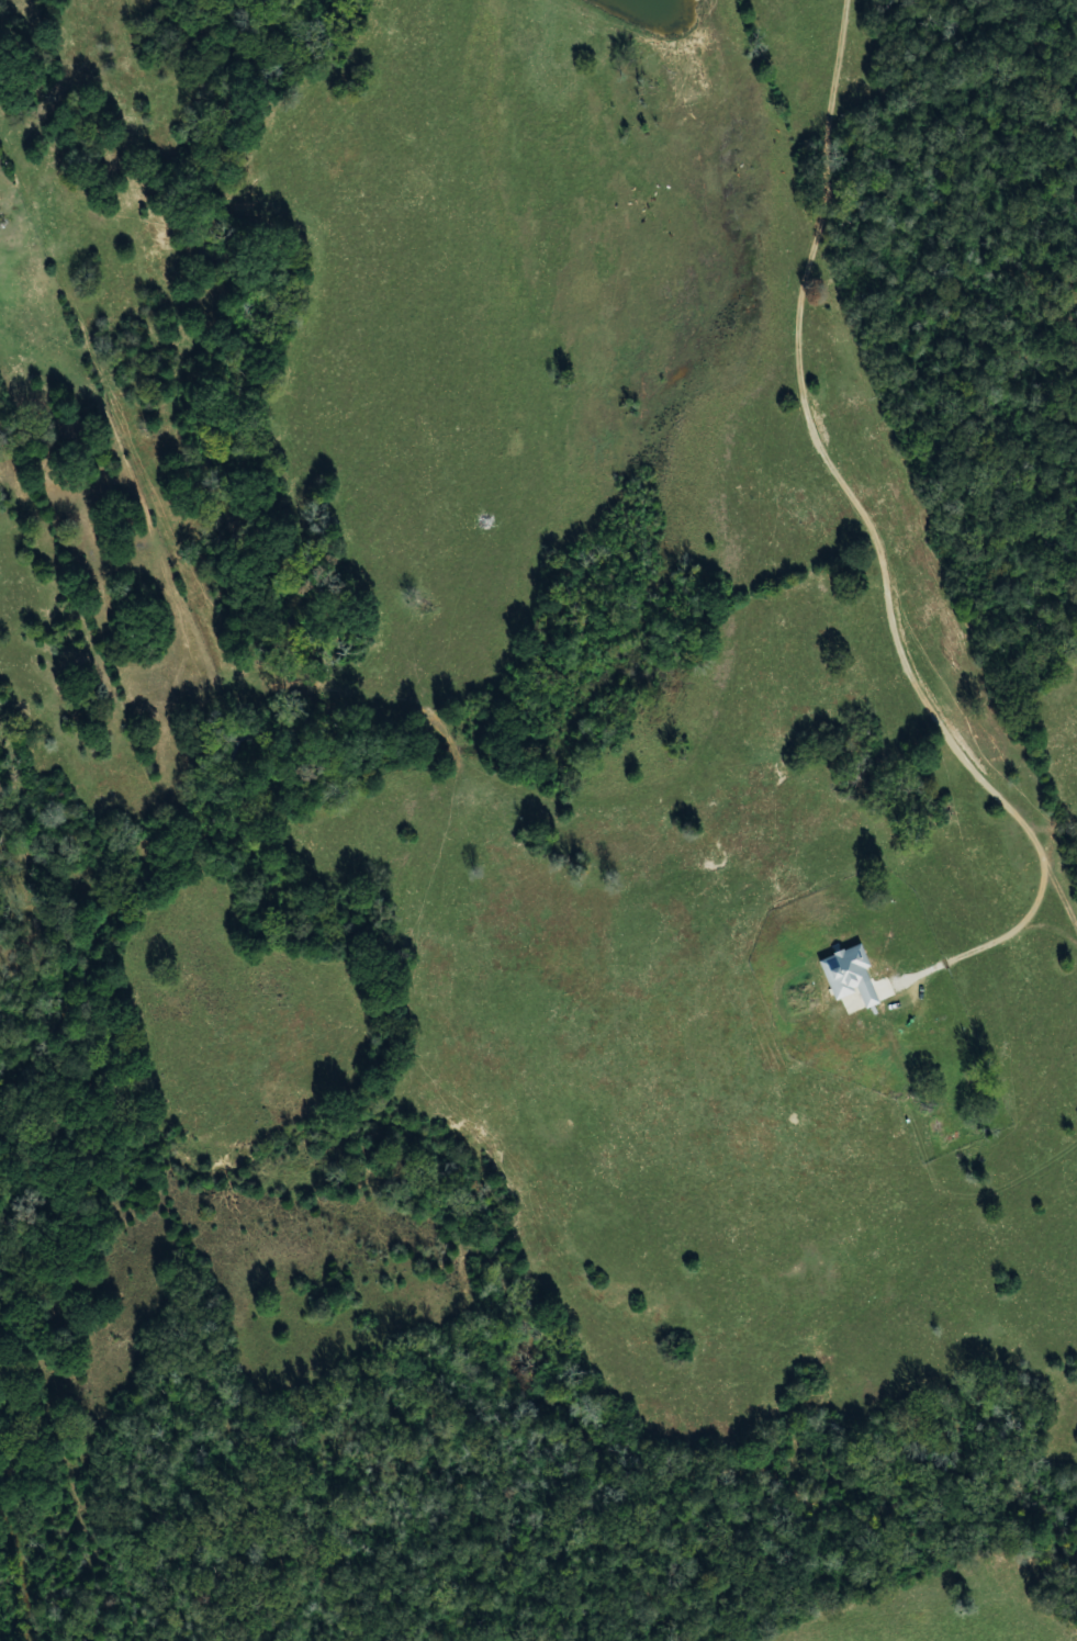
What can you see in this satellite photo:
road: (877, 549)

